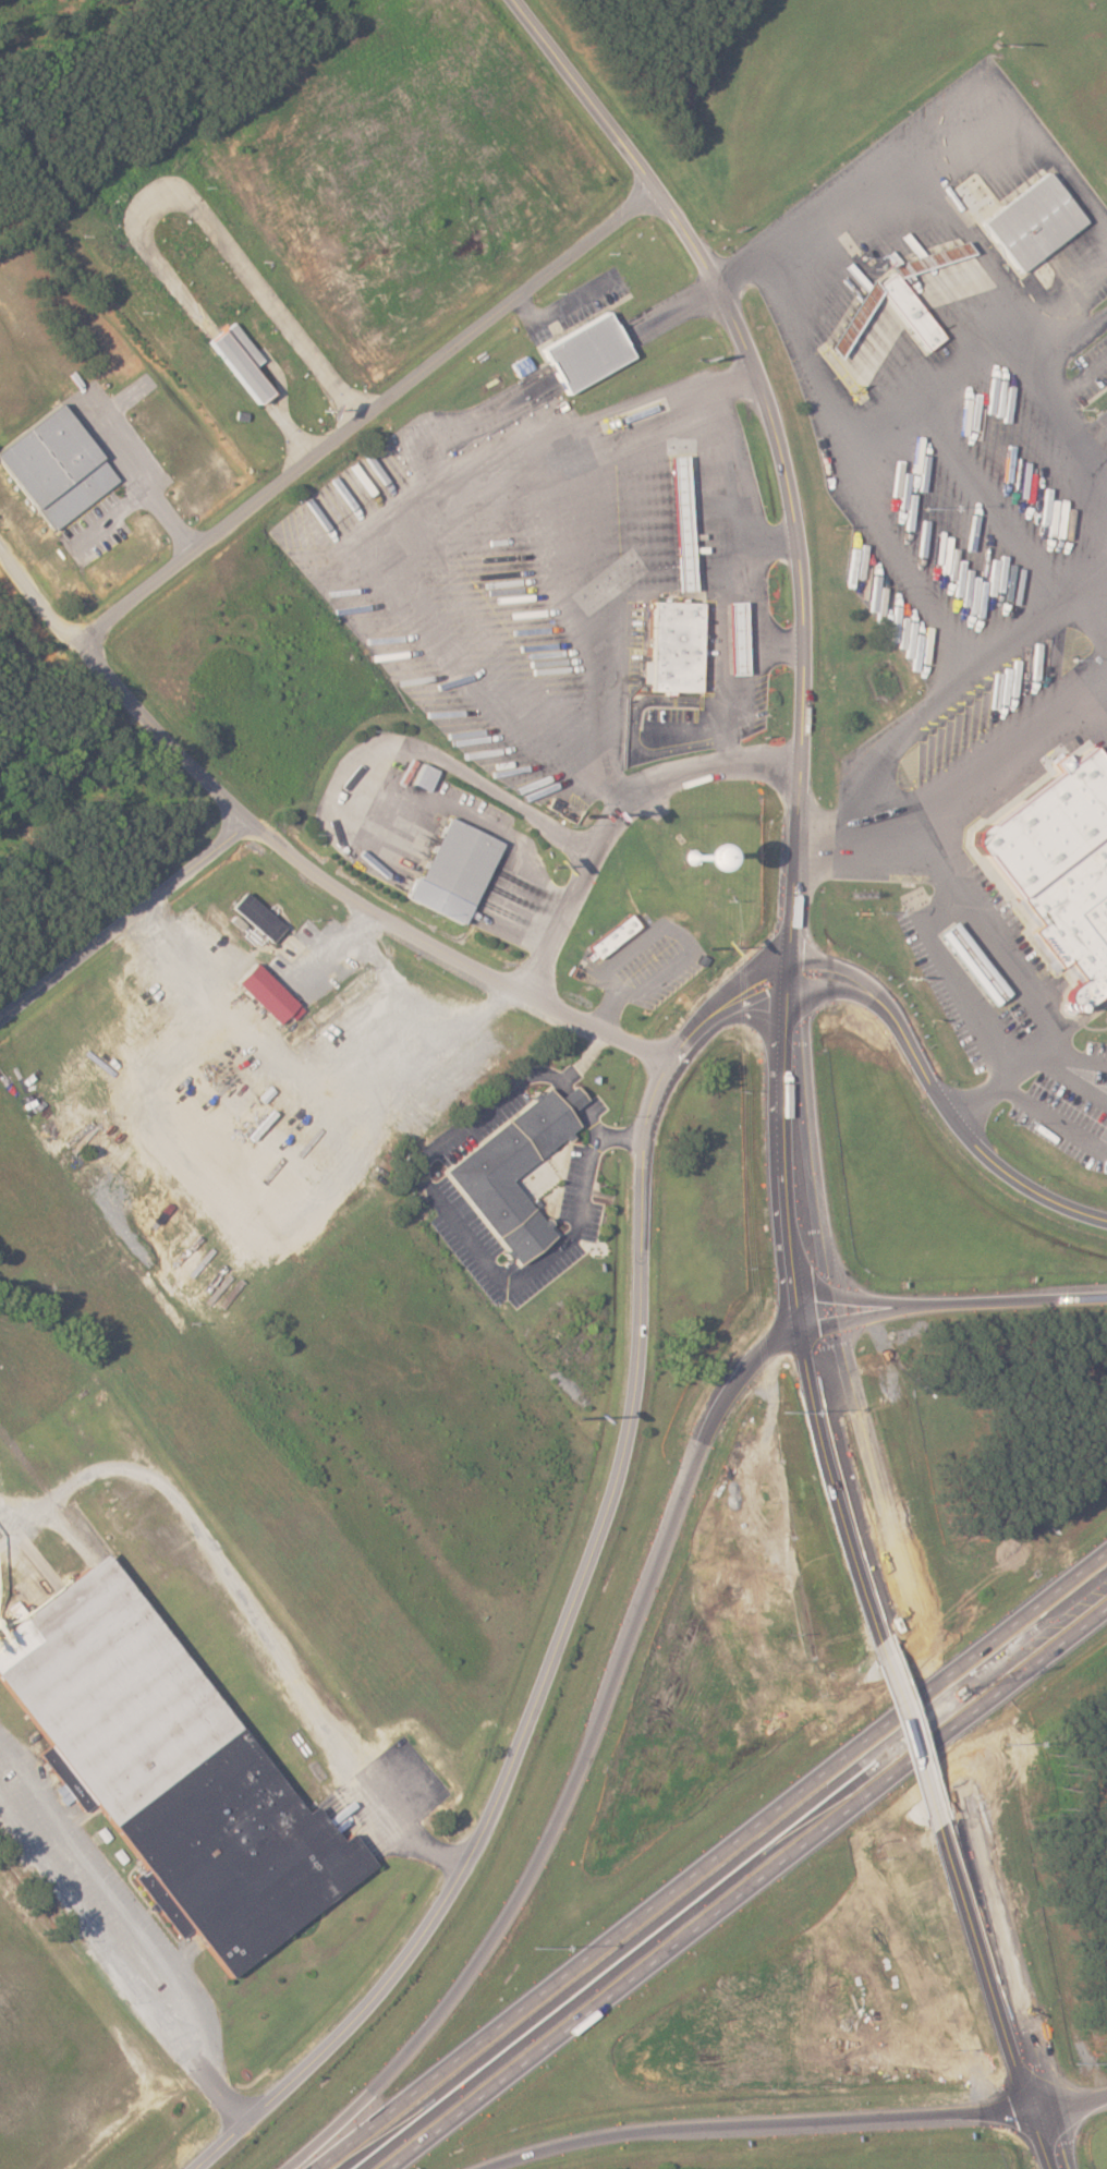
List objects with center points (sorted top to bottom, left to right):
road: (574, 96)
road: (948, 111)
building: (1029, 225)
road: (211, 227)
road: (733, 269)
building: (895, 300)
road: (1091, 319)
road: (1020, 327)
road: (804, 347)
building: (584, 353)
building: (238, 363)
road: (245, 368)
road: (928, 380)
road: (1067, 387)
road: (364, 416)
road: (293, 428)
road: (1081, 429)
road: (1098, 434)
building: (51, 468)
parking lot: (962, 478)
road: (986, 496)
gas station: (678, 524)
road: (768, 542)
building: (678, 545)
road: (898, 558)
road: (751, 564)
road: (1092, 605)
building: (732, 638)
gas station: (734, 640)
road: (781, 646)
building: (672, 647)
road: (950, 686)
road: (984, 746)
road: (386, 774)
road: (613, 822)
road: (824, 846)
road: (292, 856)
building: (450, 872)
road: (787, 902)
building: (255, 917)
building: (1074, 919)
road: (124, 921)
building: (218, 922)
building: (611, 937)
road: (998, 960)
building: (969, 964)
building: (264, 994)
road: (1080, 1019)
road: (1075, 1055)
road: (573, 1083)
road: (581, 1098)
road: (1049, 1118)
road: (596, 1122)
building: (506, 1174)
road: (459, 1222)
road: (952, 1307)
road: (640, 1390)
road: (7, 1540)
road: (251, 1603)
road: (915, 1731)
road: (582, 1767)
road: (716, 1863)
road: (749, 1887)
road: (125, 1954)
road: (1003, 1996)
road: (1074, 2105)
road: (763, 2124)

